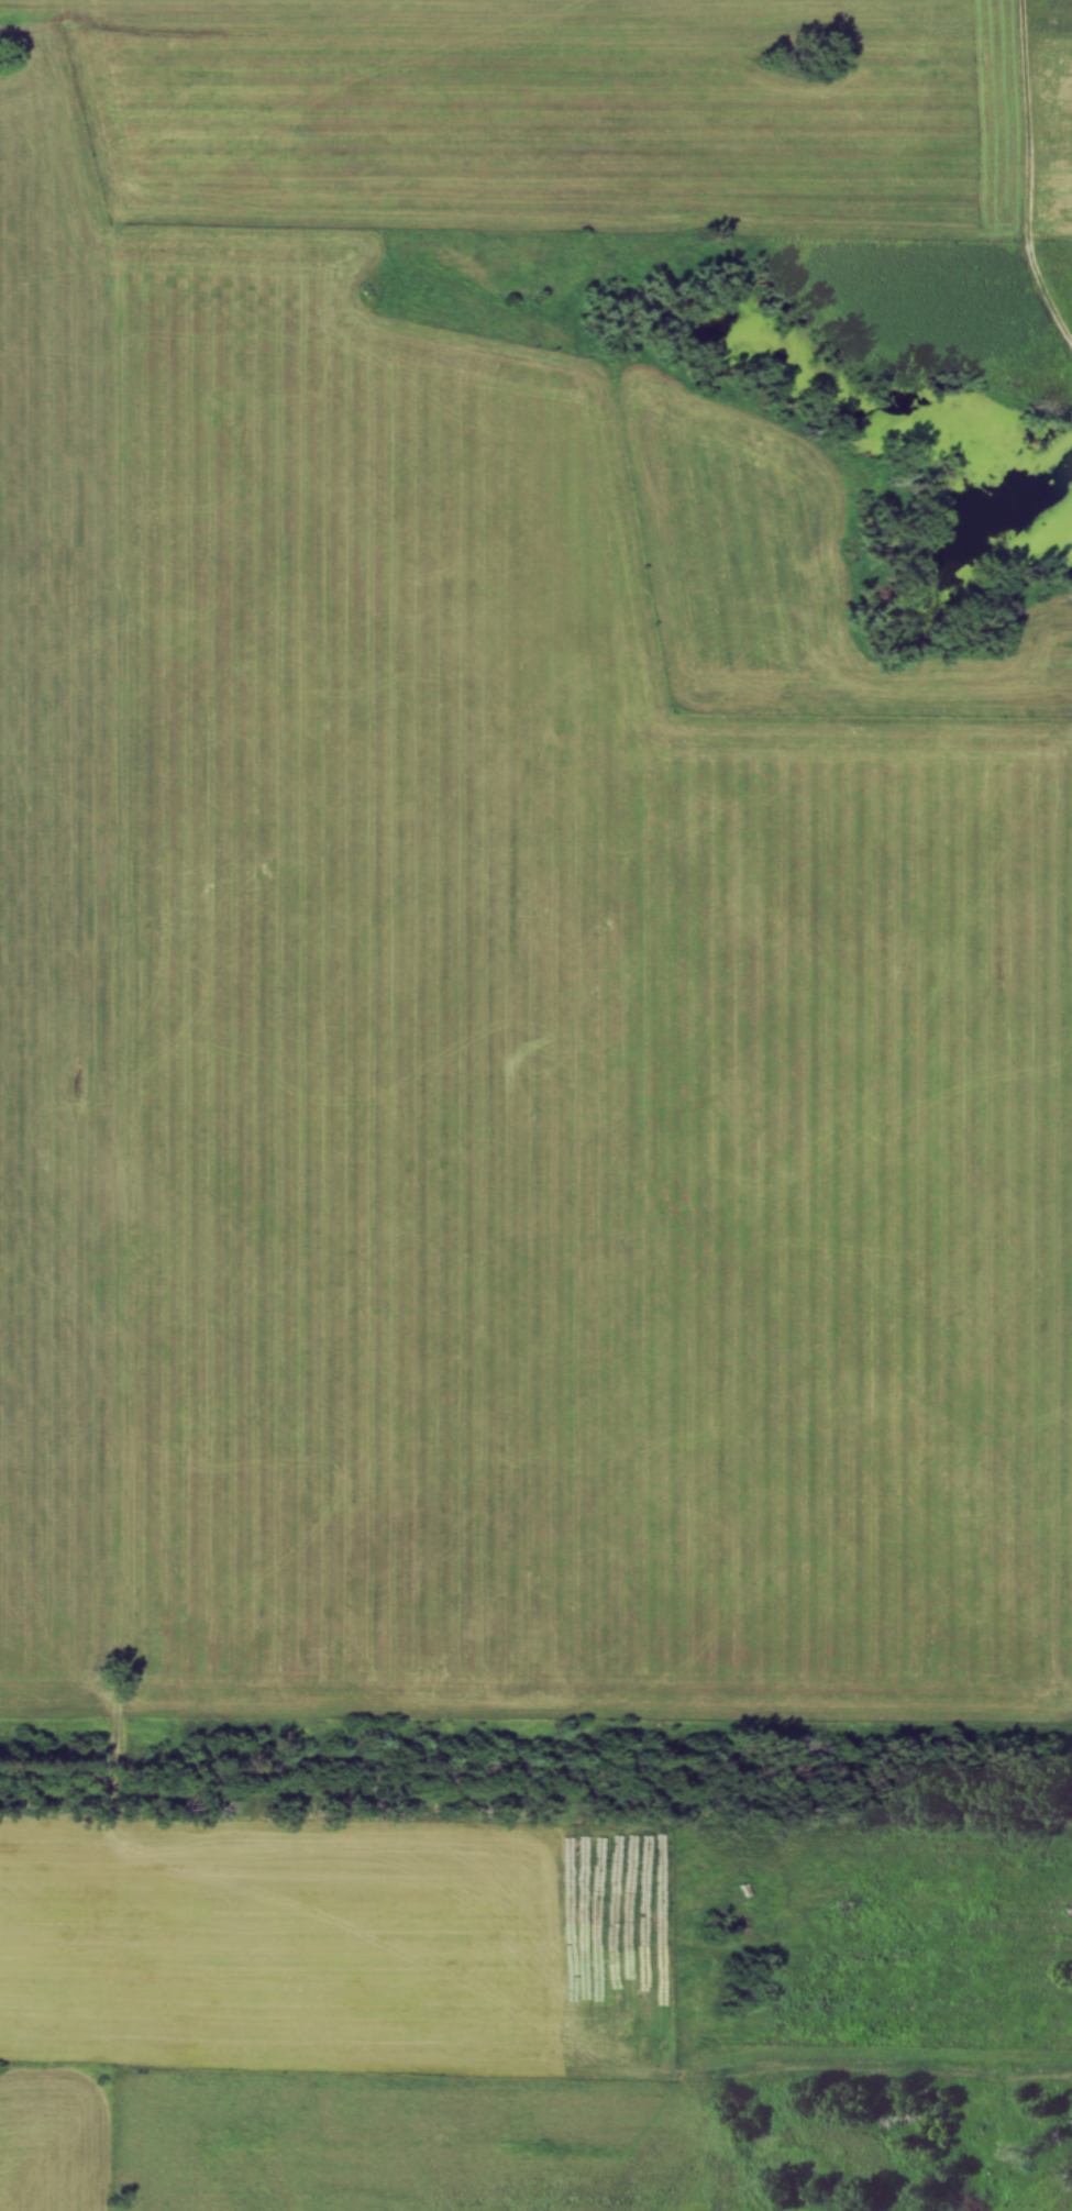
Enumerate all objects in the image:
road: (344, 36)

